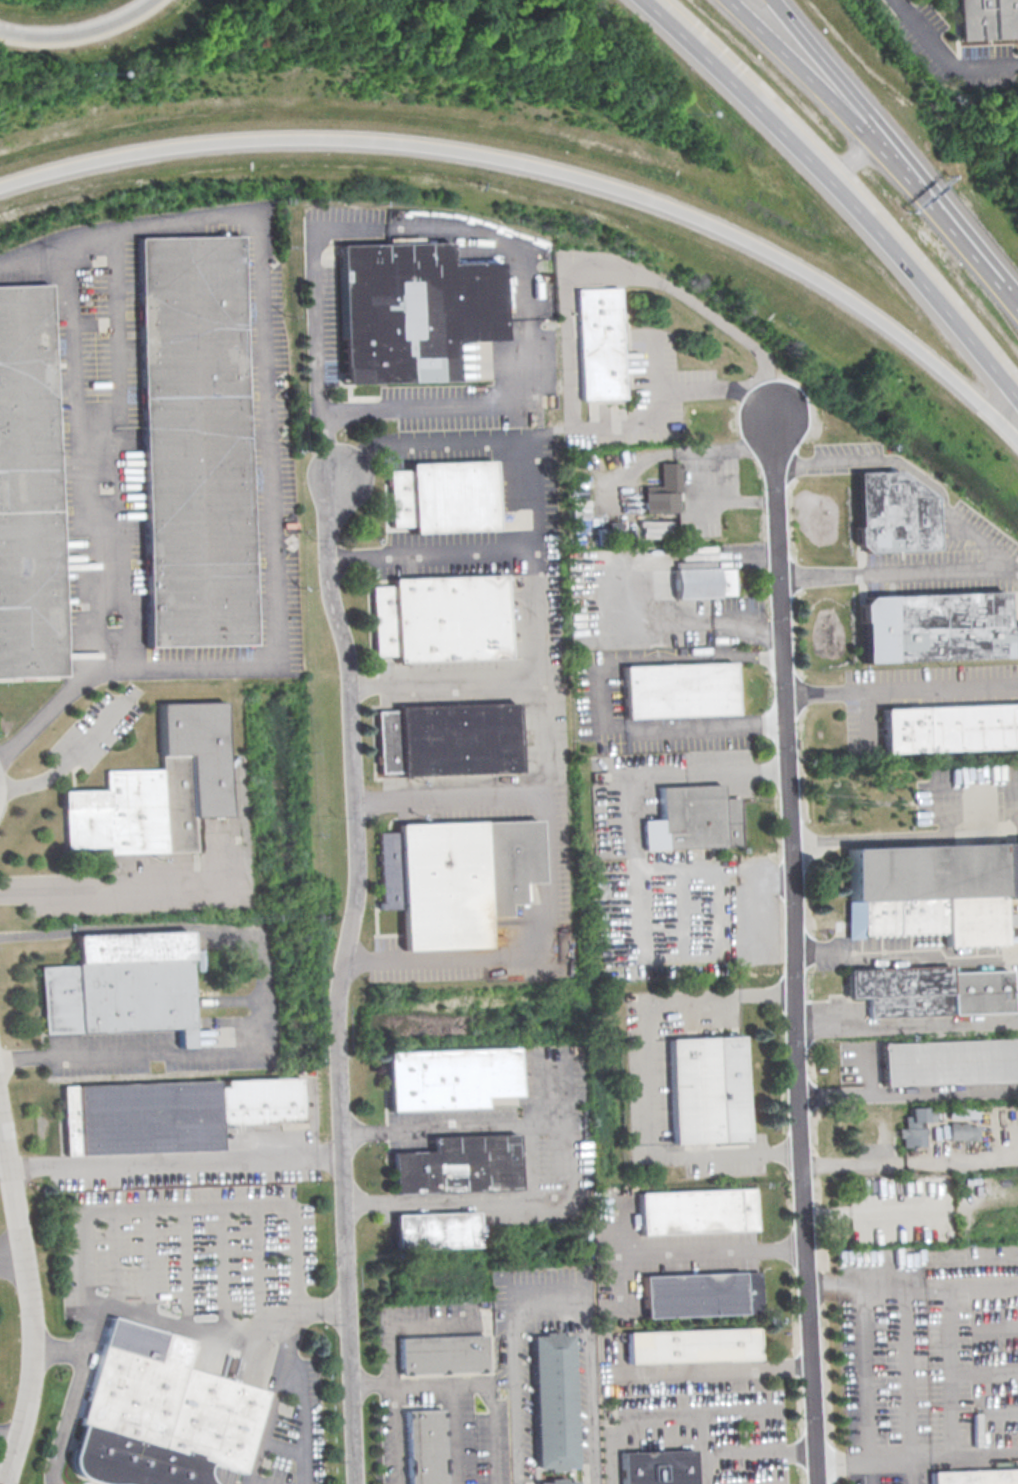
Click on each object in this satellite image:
building: (987, 18)
road: (78, 31)
parking lot: (955, 51)
road: (947, 59)
road: (841, 80)
road: (813, 82)
road: (850, 159)
road: (546, 167)
road: (840, 191)
road: (959, 232)
road: (479, 236)
road: (56, 245)
road: (563, 285)
building: (414, 312)
parking lot: (324, 324)
building: (598, 344)
road: (683, 388)
road: (771, 393)
building: (195, 441)
road: (674, 452)
road: (82, 454)
road: (875, 460)
parking lot: (100, 466)
building: (662, 490)
building: (28, 492)
building: (443, 498)
road: (736, 500)
building: (893, 514)
road: (982, 547)
road: (438, 556)
road: (894, 572)
building: (703, 582)
building: (439, 619)
road: (689, 620)
building: (938, 629)
road: (274, 655)
road: (748, 655)
road: (448, 682)
road: (548, 687)
building: (681, 691)
road: (902, 691)
road: (59, 701)
building: (949, 730)
road: (603, 733)
building: (447, 741)
road: (74, 754)
road: (949, 783)
building: (158, 792)
road: (453, 794)
building: (690, 819)
road: (904, 835)
building: (454, 880)
road: (178, 888)
building: (932, 891)
road: (633, 892)
road: (909, 950)
road: (798, 960)
road: (344, 975)
building: (124, 987)
building: (931, 992)
road: (258, 994)
road: (909, 1023)
building: (951, 1063)
road: (650, 1077)
building: (450, 1081)
building: (708, 1091)
road: (911, 1092)
road: (553, 1102)
building: (171, 1115)
road: (2, 1123)
building: (919, 1126)
building: (965, 1131)
road: (4, 1151)
road: (912, 1160)
road: (528, 1163)
road: (177, 1165)
building: (455, 1167)
road: (570, 1171)
road: (191, 1207)
road: (874, 1212)
building: (699, 1213)
building: (436, 1233)
road: (11, 1249)
road: (717, 1251)
road: (622, 1253)
parking lot: (192, 1266)
road: (915, 1284)
road: (29, 1291)
road: (544, 1294)
building: (702, 1296)
road: (321, 1308)
road: (388, 1322)
road: (191, 1328)
road: (996, 1329)
building: (692, 1347)
road: (58, 1348)
parking lot: (928, 1356)
building: (440, 1357)
road: (730, 1364)
parking lot: (512, 1367)
road: (997, 1372)
road: (469, 1384)
road: (917, 1384)
road: (869, 1385)
road: (586, 1388)
road: (511, 1389)
building: (551, 1403)
road: (1000, 1411)
road: (685, 1413)
road: (301, 1417)
building: (161, 1421)
parking lot: (285, 1423)
road: (7, 1430)
road: (453, 1434)
parking lot: (698, 1438)
road: (281, 1447)
building: (423, 1447)
road: (703, 1448)
road: (762, 1453)
road: (920, 1459)
building: (658, 1467)
building: (977, 1477)
road: (224, 1480)
road: (253, 1482)
building: (556, 1482)
road: (743, 1483)

